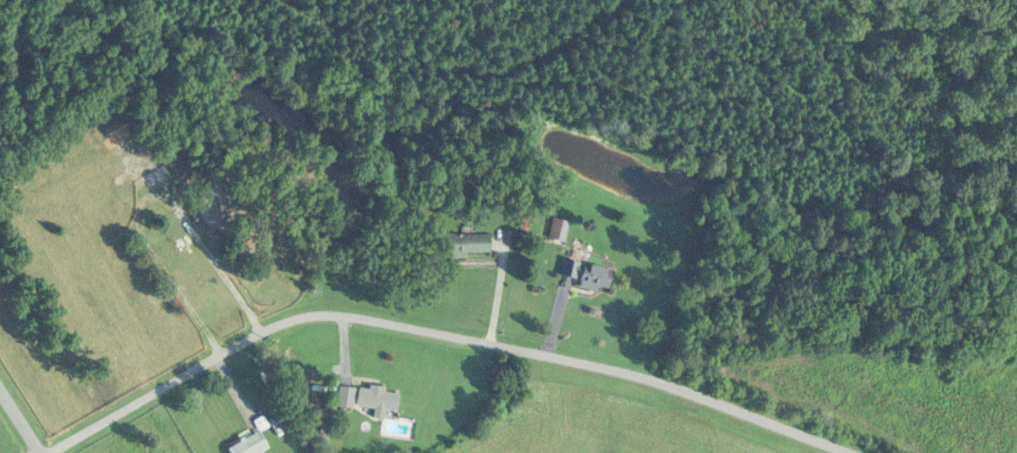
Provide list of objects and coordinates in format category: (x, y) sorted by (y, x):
building: (155, 175)
building: (210, 208)
building: (558, 230)
building: (461, 245)
building: (587, 275)
road: (440, 331)
building: (368, 401)
road: (20, 420)
building: (249, 445)

